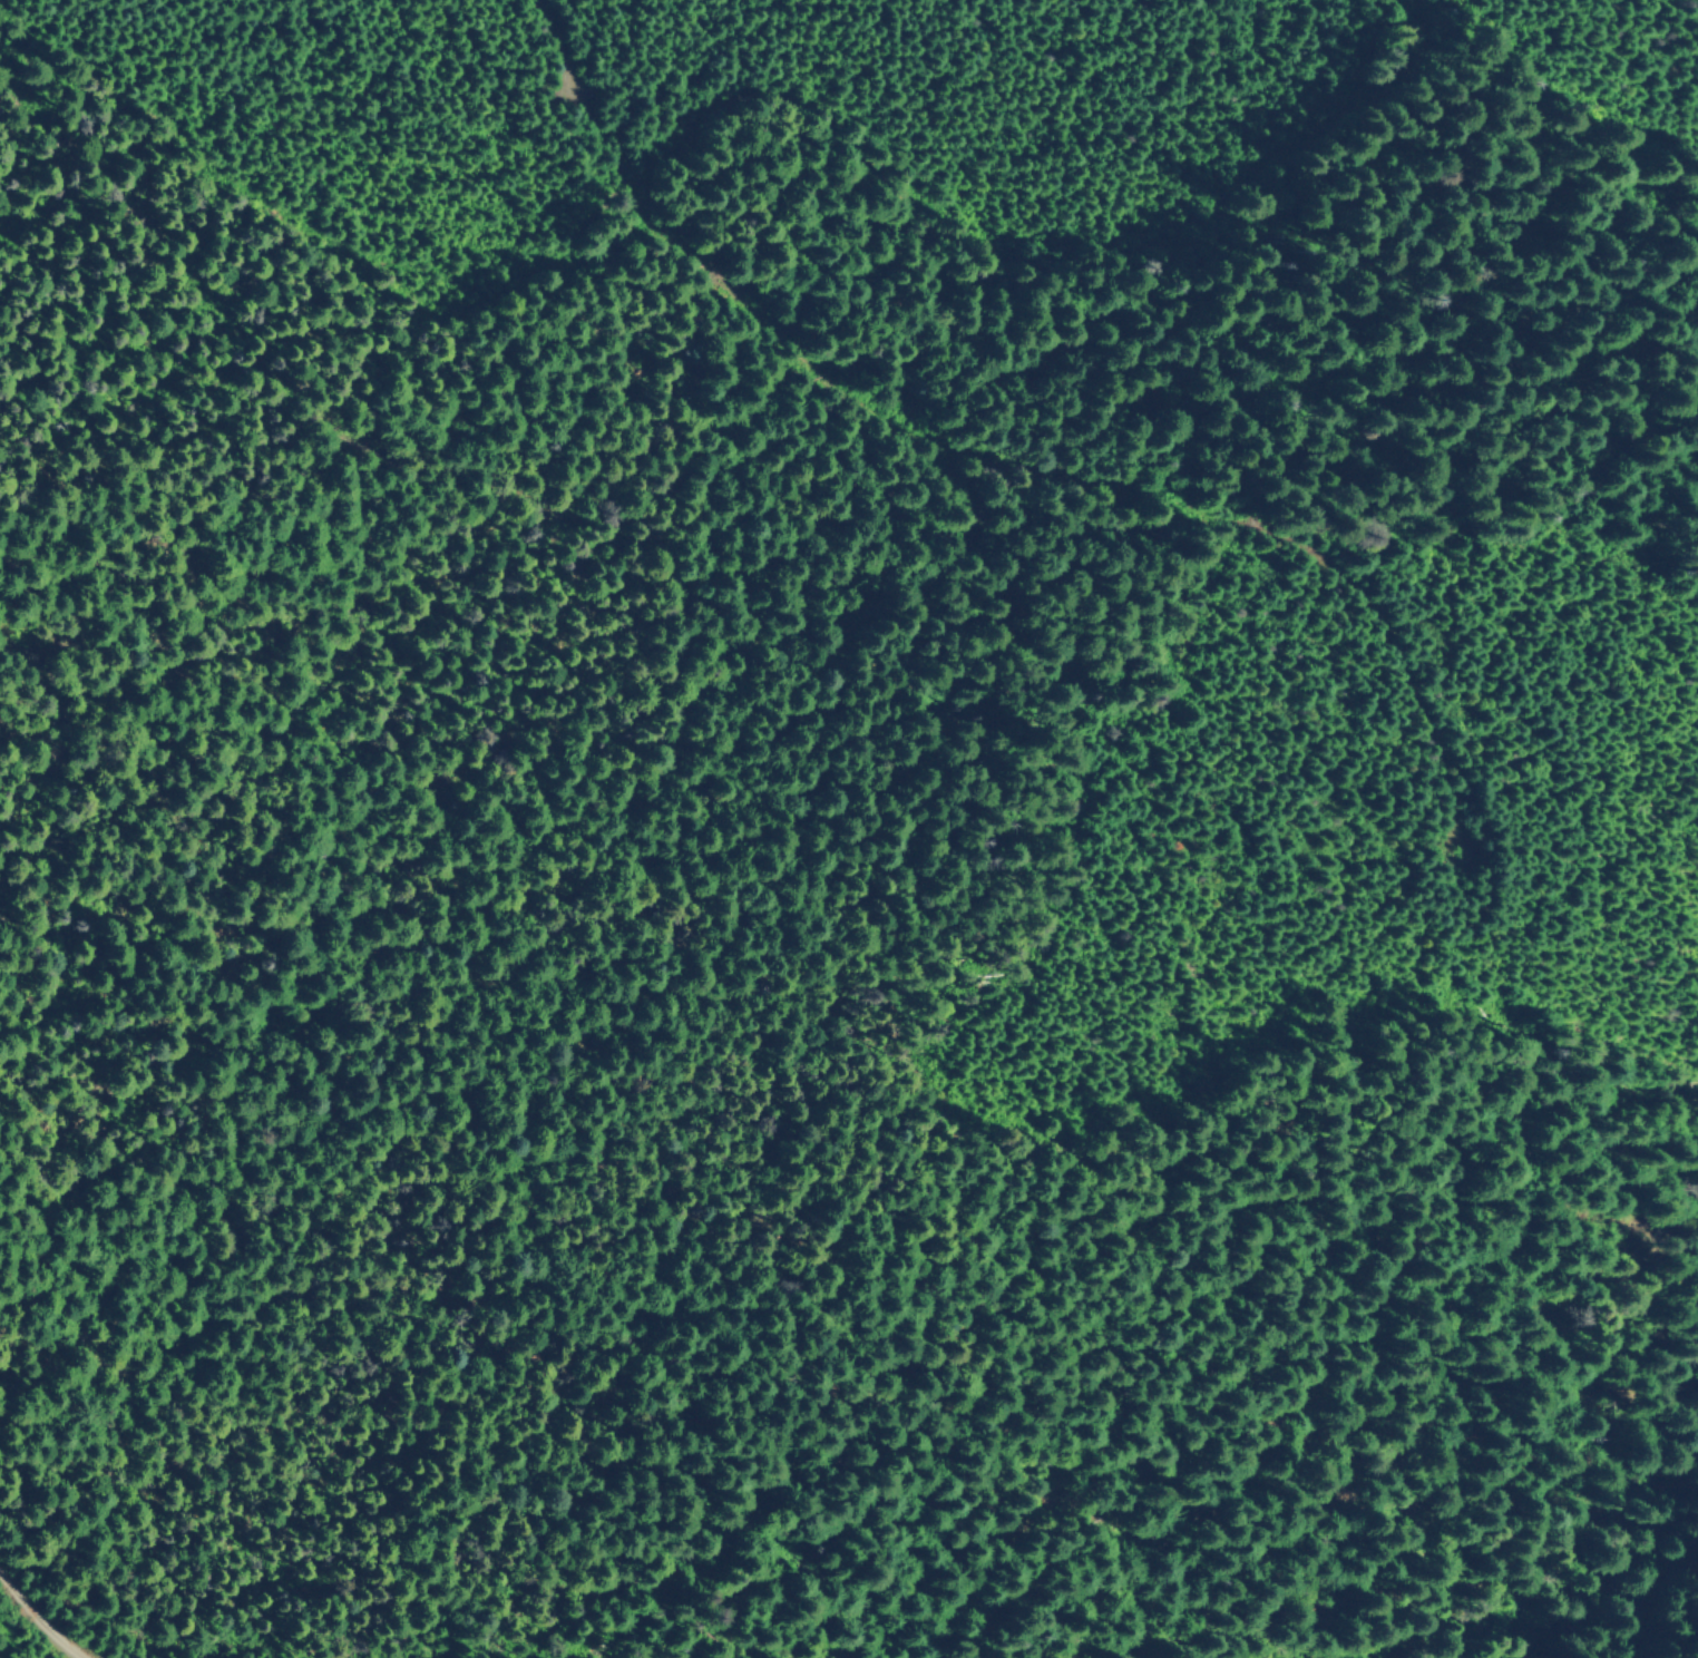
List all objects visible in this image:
road: (43, 1608)

